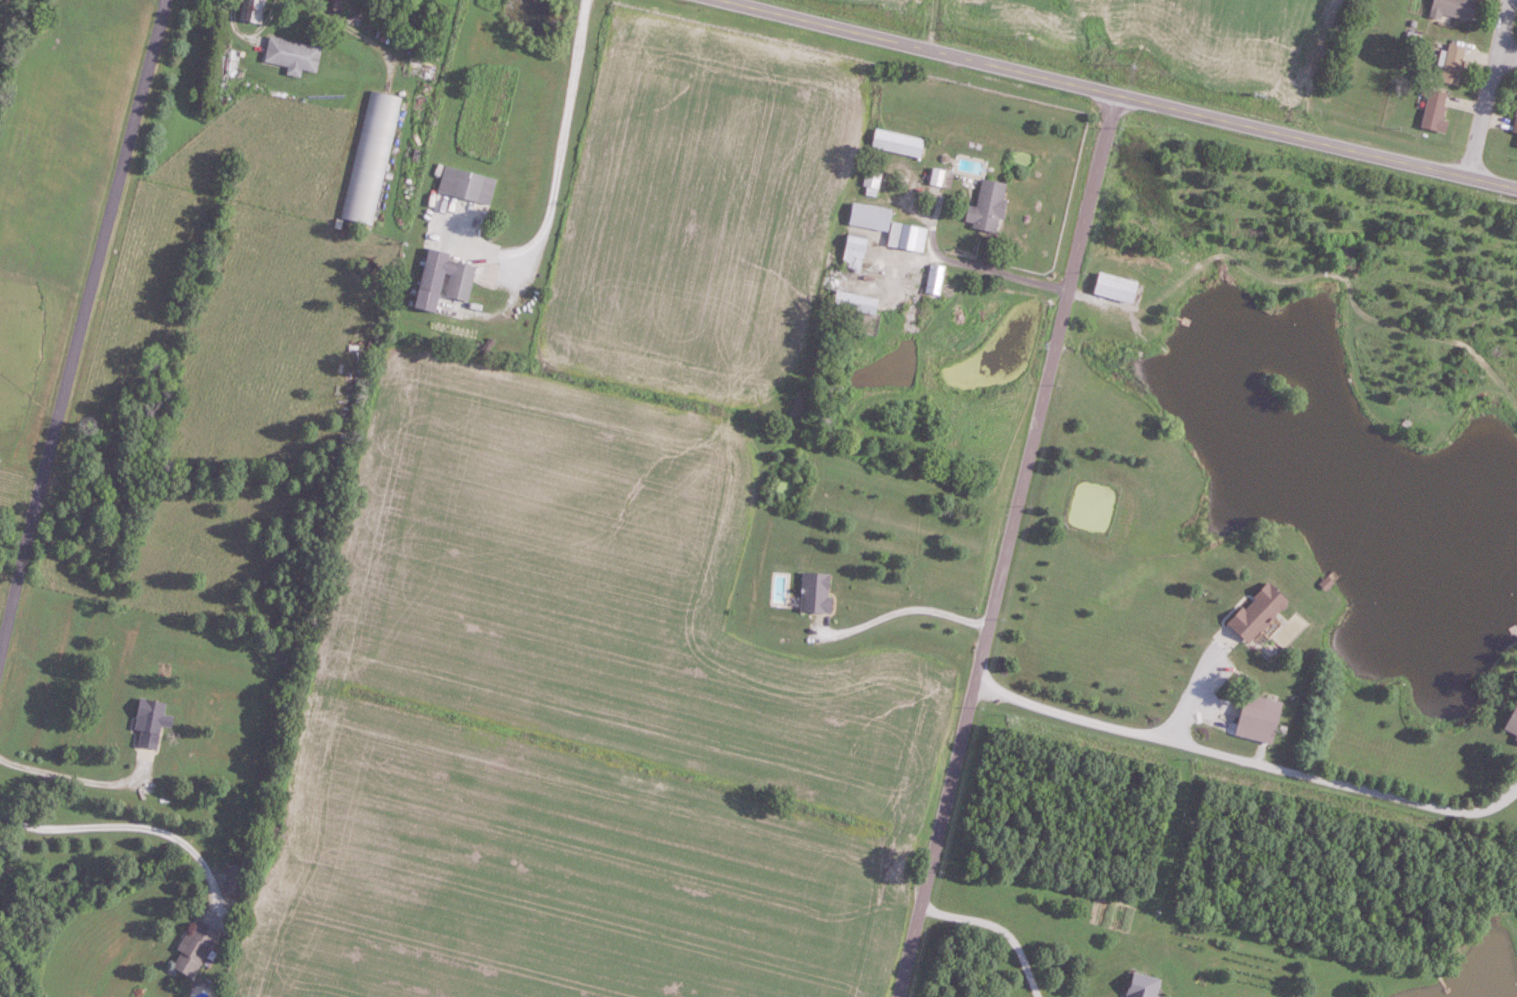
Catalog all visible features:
building: (1453, 9)
building: (255, 11)
road: (343, 26)
road: (822, 26)
road: (1508, 54)
building: (295, 56)
building: (1452, 63)
road: (1490, 88)
building: (1434, 112)
road: (1222, 120)
building: (1514, 124)
building: (895, 143)
building: (1516, 145)
road: (562, 146)
building: (372, 157)
building: (939, 178)
building: (870, 180)
building: (469, 185)
building: (985, 207)
building: (867, 217)
building: (904, 238)
building: (851, 253)
road: (989, 271)
building: (447, 280)
building: (932, 280)
building: (1112, 288)
road: (82, 329)
road: (1008, 546)
building: (819, 592)
road: (899, 610)
building: (1255, 612)
road: (1195, 686)
building: (1255, 717)
building: (1510, 721)
building: (152, 722)
road: (1230, 755)
road: (83, 782)
road: (1505, 795)
road: (137, 827)
building: (237, 879)
road: (998, 928)
building: (197, 949)
building: (1139, 985)

